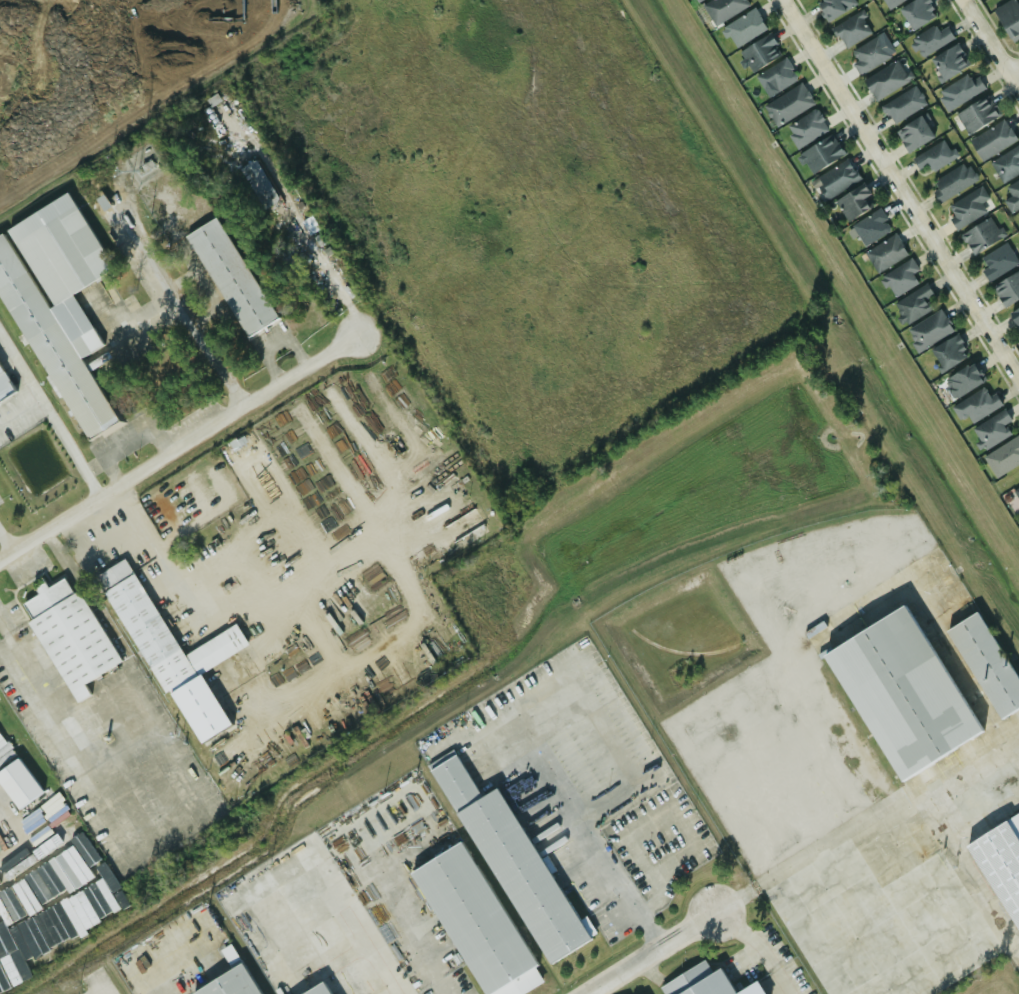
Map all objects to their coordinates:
building: (697, 0)
building: (699, 0)
building: (891, 2)
building: (833, 7)
building: (723, 8)
building: (916, 12)
building: (1008, 19)
building: (743, 28)
building: (852, 29)
building: (929, 40)
road: (991, 43)
building: (759, 53)
building: (868, 55)
building: (948, 61)
road: (1015, 71)
building: (775, 76)
building: (885, 79)
building: (958, 91)
building: (788, 104)
building: (902, 105)
building: (977, 114)
building: (806, 129)
building: (913, 134)
building: (991, 140)
building: (820, 154)
building: (932, 157)
building: (1006, 164)
building: (836, 179)
building: (951, 182)
building: (256, 184)
road: (901, 188)
building: (1012, 195)
building: (854, 202)
building: (966, 207)
building: (1018, 216)
building: (870, 227)
building: (980, 236)
building: (885, 253)
building: (996, 262)
road: (323, 274)
building: (231, 277)
building: (900, 277)
building: (1007, 289)
building: (913, 304)
building: (57, 306)
road: (180, 306)
building: (1015, 317)
building: (928, 330)
building: (948, 353)
building: (962, 381)
building: (3, 389)
building: (976, 405)
road: (50, 413)
building: (990, 430)
road: (369, 441)
building: (235, 443)
road: (178, 445)
building: (1003, 456)
road: (237, 459)
road: (336, 464)
building: (1016, 492)
road: (308, 524)
road: (7, 538)
road: (308, 614)
building: (69, 636)
building: (170, 652)
building: (985, 663)
road: (332, 692)
building: (900, 693)
road: (518, 719)
road: (67, 725)
building: (0, 741)
road: (1012, 746)
building: (4, 753)
building: (15, 784)
road: (880, 812)
road: (679, 817)
building: (1002, 861)
building: (512, 862)
road: (969, 868)
road: (46, 888)
road: (735, 900)
building: (475, 923)
road: (411, 935)
road: (366, 946)
road: (756, 950)
building: (16, 951)
road: (649, 953)
building: (226, 955)
road: (176, 965)
building: (230, 982)
building: (701, 982)
road: (100, 986)
building: (318, 989)

